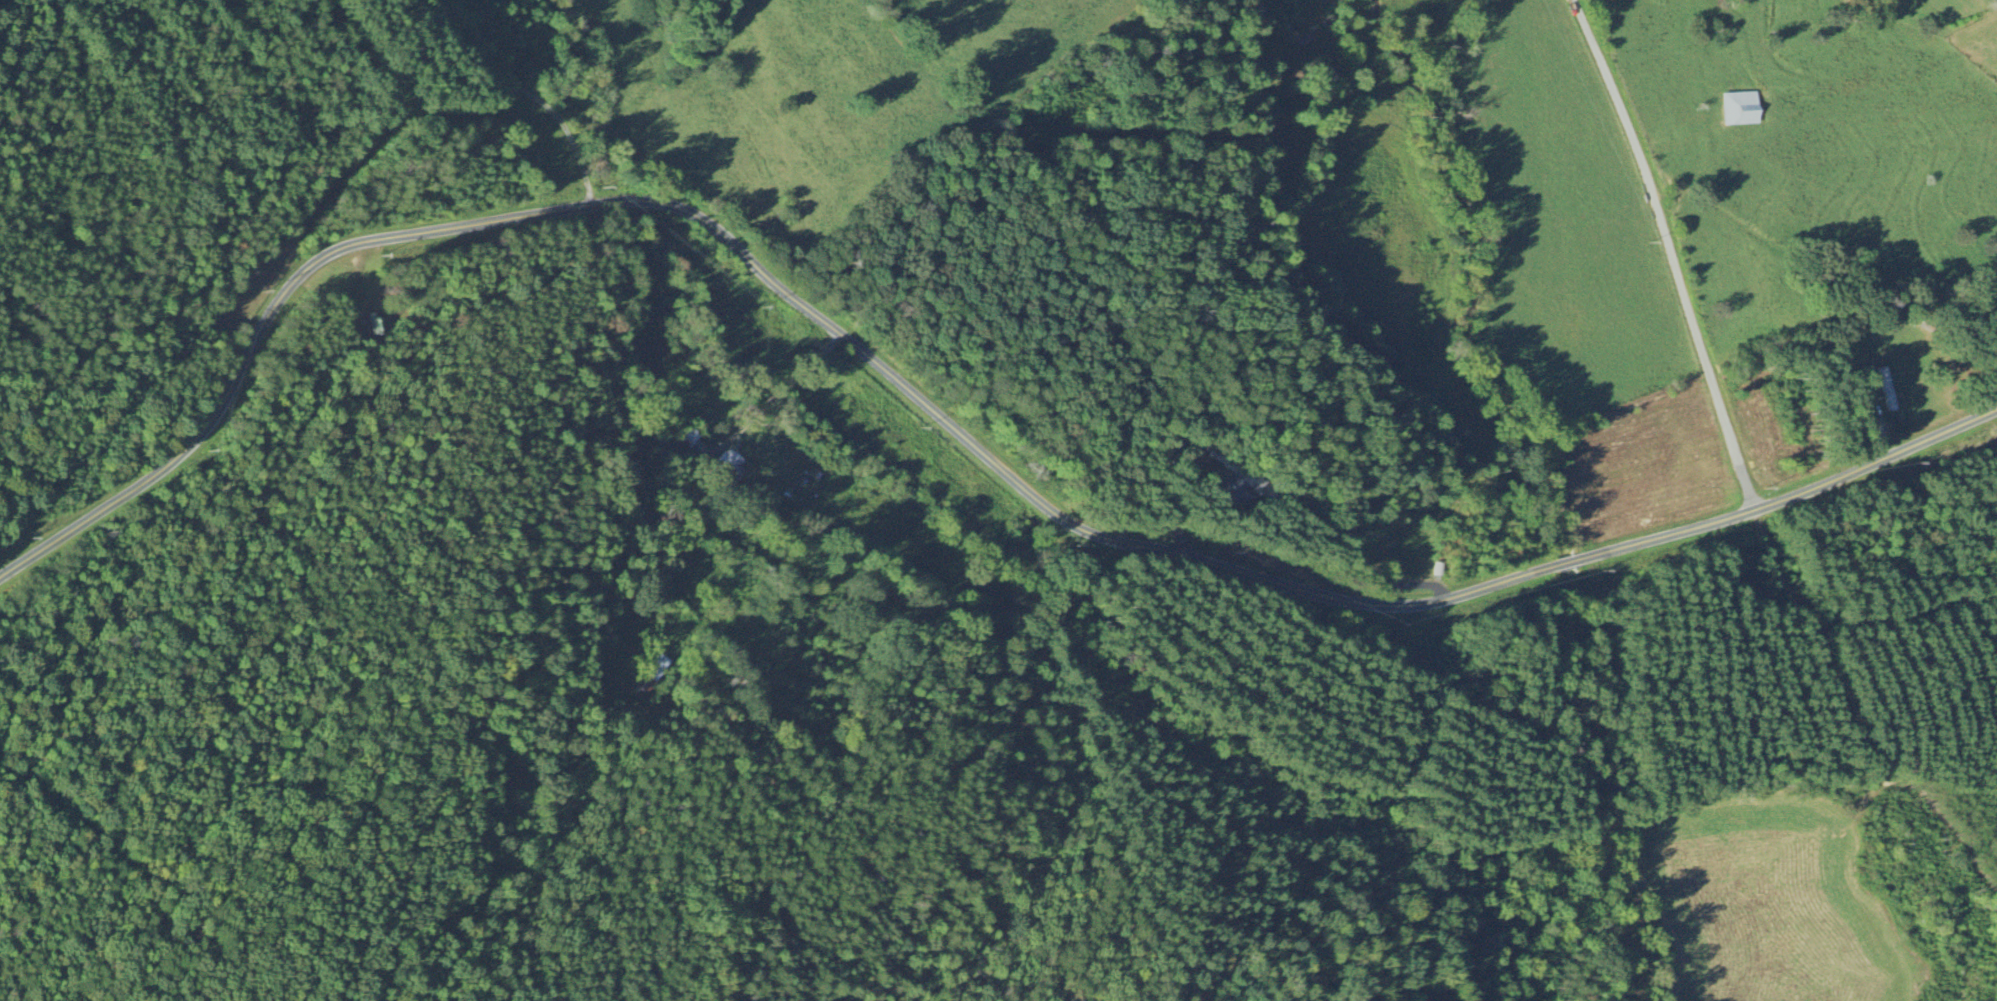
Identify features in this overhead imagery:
road: (534, 95)
building: (1740, 109)
road: (1667, 251)
road: (1224, 293)
road: (809, 364)
building: (1888, 390)
road: (773, 398)
road: (931, 411)
road: (741, 428)
building: (729, 466)
building: (1230, 492)
building: (651, 677)

